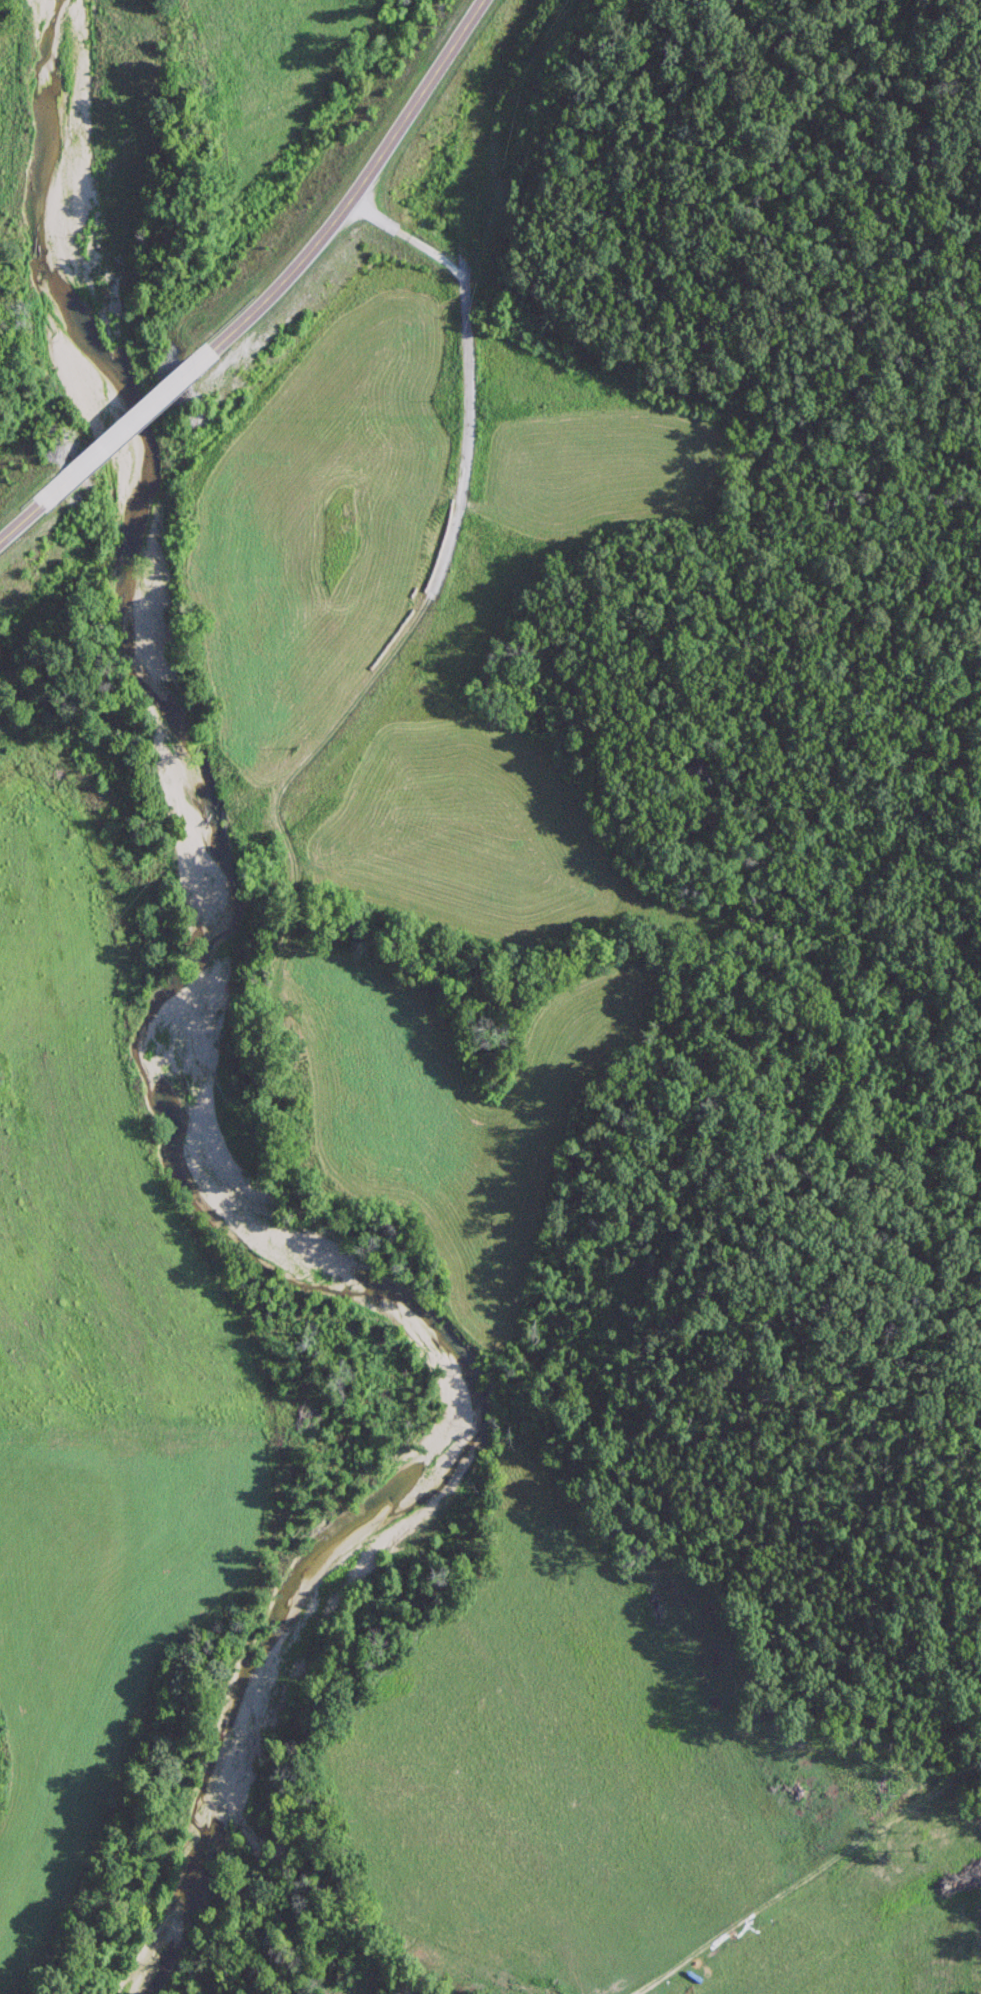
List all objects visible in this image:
road: (360, 186)
road: (124, 424)
road: (22, 524)
road: (802, 1877)

